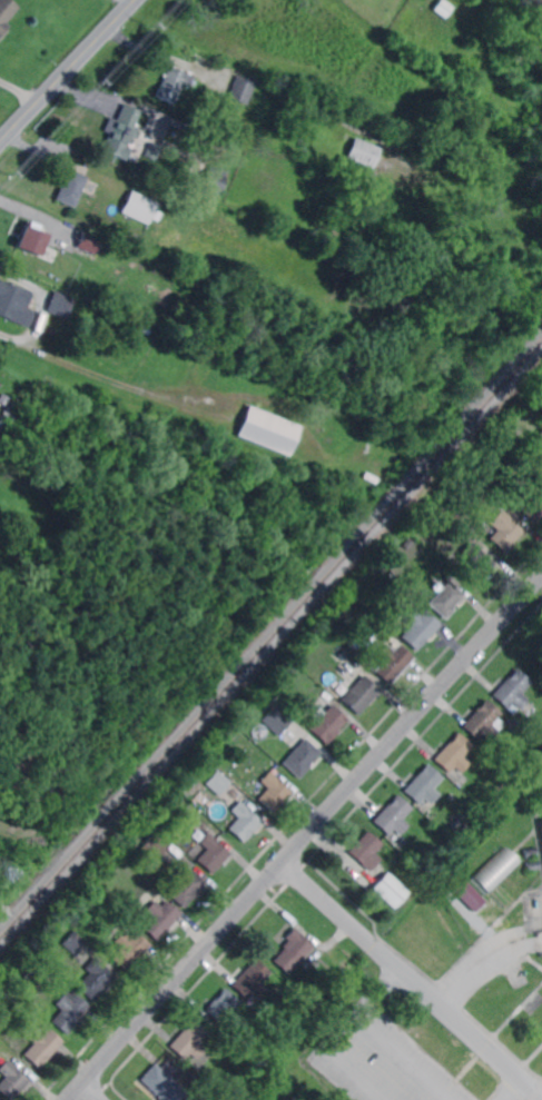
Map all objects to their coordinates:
road: (134, 0)
building: (442, 9)
building: (6, 13)
road: (68, 72)
building: (174, 83)
building: (243, 89)
building: (540, 95)
building: (124, 131)
building: (155, 150)
building: (364, 152)
building: (214, 181)
building: (70, 187)
building: (139, 208)
building: (528, 209)
road: (33, 220)
building: (152, 238)
building: (31, 241)
building: (90, 242)
road: (41, 298)
building: (10, 299)
building: (62, 305)
building: (13, 413)
building: (269, 430)
building: (540, 438)
building: (371, 477)
building: (452, 498)
building: (533, 501)
building: (505, 531)
building: (475, 564)
building: (449, 599)
building: (421, 628)
railway: (270, 640)
building: (395, 662)
building: (514, 690)
building: (363, 694)
building: (264, 703)
building: (306, 703)
building: (295, 710)
building: (279, 720)
building: (484, 721)
building: (329, 722)
building: (513, 724)
building: (456, 754)
building: (303, 757)
building: (220, 782)
building: (427, 786)
building: (276, 792)
building: (190, 816)
building: (394, 816)
building: (246, 821)
building: (541, 821)
building: (461, 828)
road: (306, 839)
building: (156, 845)
building: (368, 850)
building: (531, 852)
building: (215, 853)
building: (533, 865)
building: (497, 869)
building: (186, 886)
building: (391, 890)
building: (152, 891)
building: (89, 892)
building: (469, 894)
road: (332, 904)
building: (162, 919)
building: (76, 942)
building: (131, 949)
building: (295, 950)
parking lot: (480, 953)
building: (339, 974)
building: (55, 978)
building: (96, 979)
building: (253, 981)
building: (226, 1008)
building: (70, 1011)
road: (460, 1020)
building: (193, 1040)
building: (45, 1046)
parking lot: (385, 1060)
building: (12, 1079)
building: (165, 1082)
road: (92, 1091)

